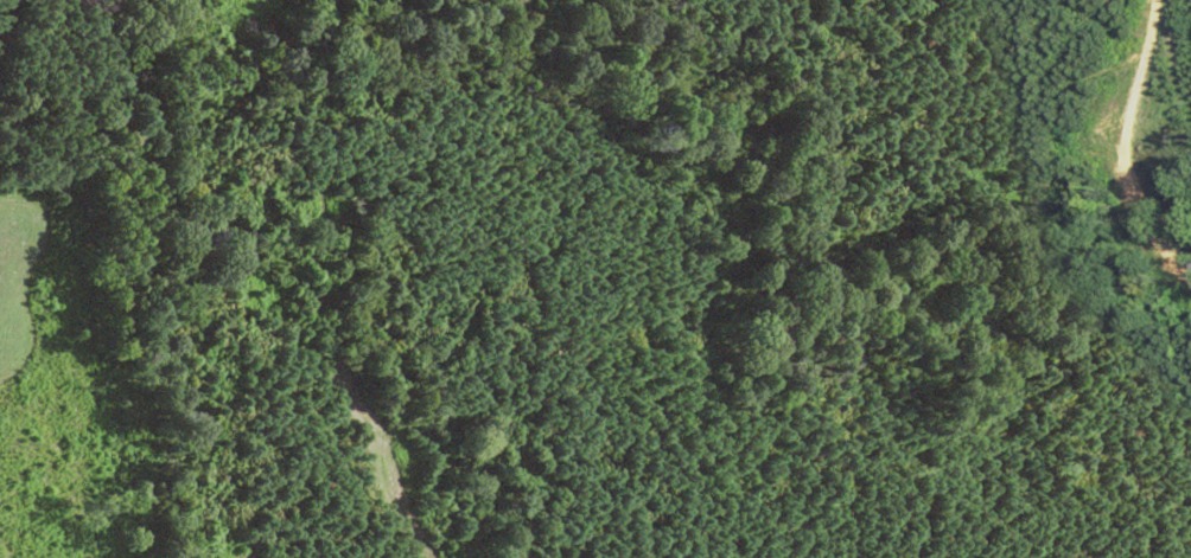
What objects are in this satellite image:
road: (1091, 172)
road: (1178, 505)

